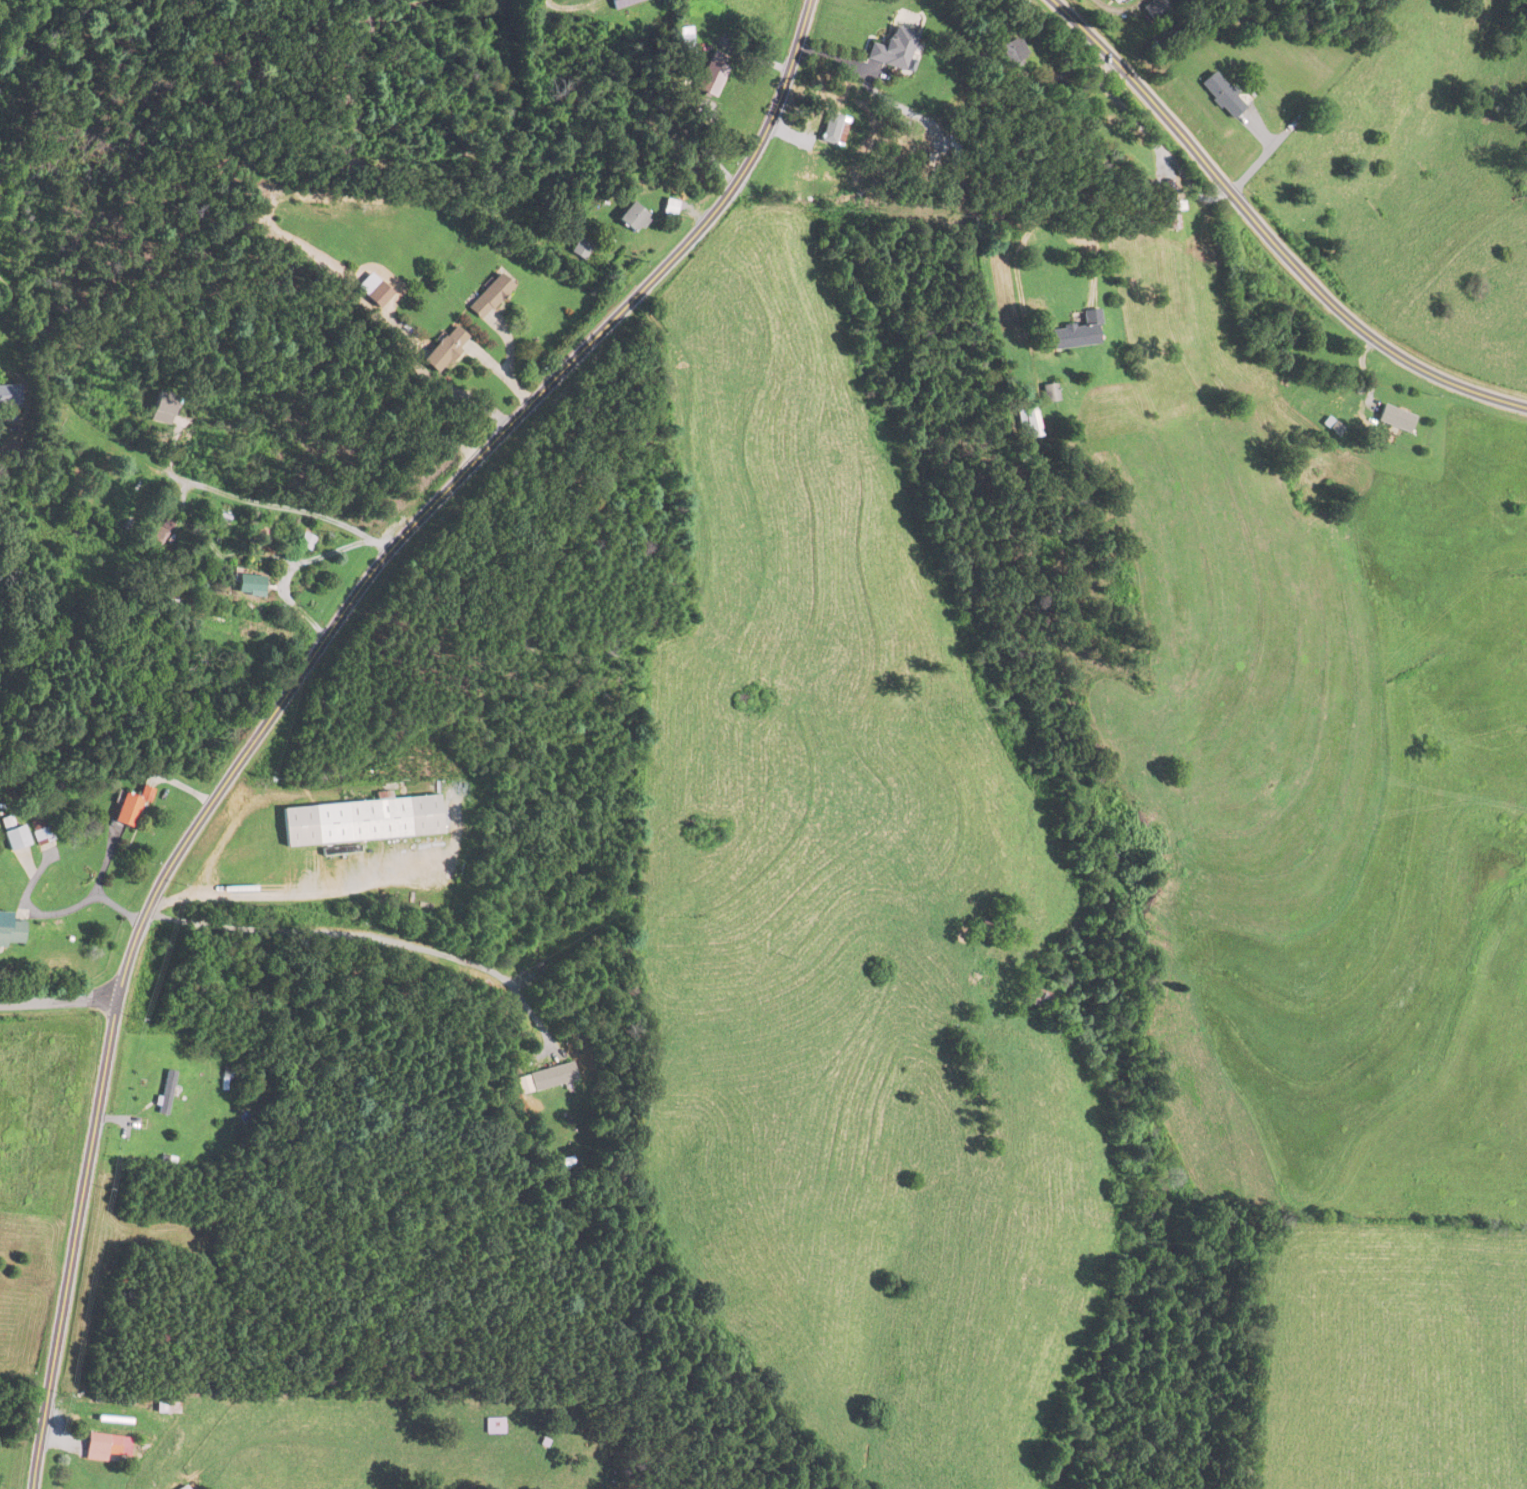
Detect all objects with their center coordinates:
building: (622, 3)
building: (1155, 8)
building: (685, 45)
building: (892, 49)
building: (1013, 52)
building: (709, 78)
building: (1221, 94)
building: (833, 129)
building: (954, 151)
building: (1171, 205)
building: (632, 217)
road: (1266, 235)
building: (580, 249)
building: (377, 295)
building: (1076, 332)
building: (443, 349)
road: (499, 373)
road: (261, 376)
building: (1048, 393)
building: (9, 395)
building: (162, 407)
building: (1394, 418)
building: (1027, 423)
road: (259, 502)
building: (159, 529)
building: (305, 541)
building: (251, 582)
road: (295, 680)
road: (184, 787)
building: (130, 808)
building: (359, 821)
building: (38, 824)
building: (13, 835)
road: (105, 863)
road: (91, 896)
road: (230, 896)
building: (10, 934)
road: (369, 937)
building: (1031, 998)
road: (59, 1000)
building: (555, 1081)
building: (165, 1093)
building: (165, 1407)
building: (492, 1425)
building: (102, 1447)
building: (180, 1487)

